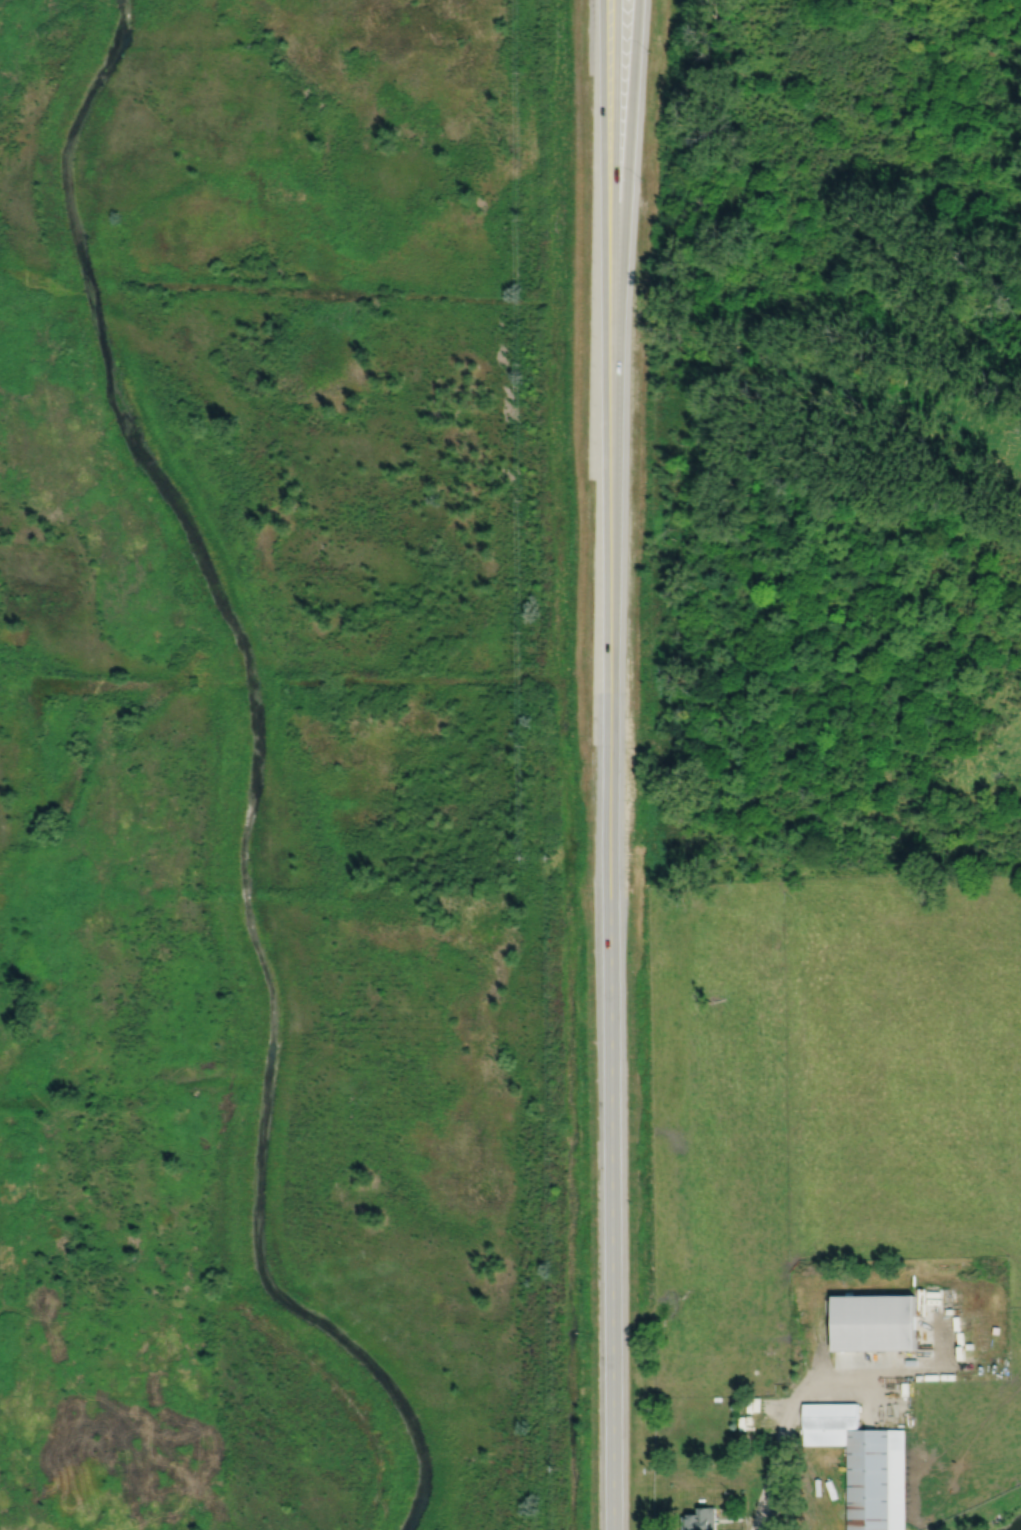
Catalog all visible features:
road: (604, 241)
road: (615, 241)
road: (624, 241)
road: (611, 1006)
building: (875, 1321)
road: (821, 1384)
building: (830, 1422)
building: (875, 1479)
building: (700, 1519)

